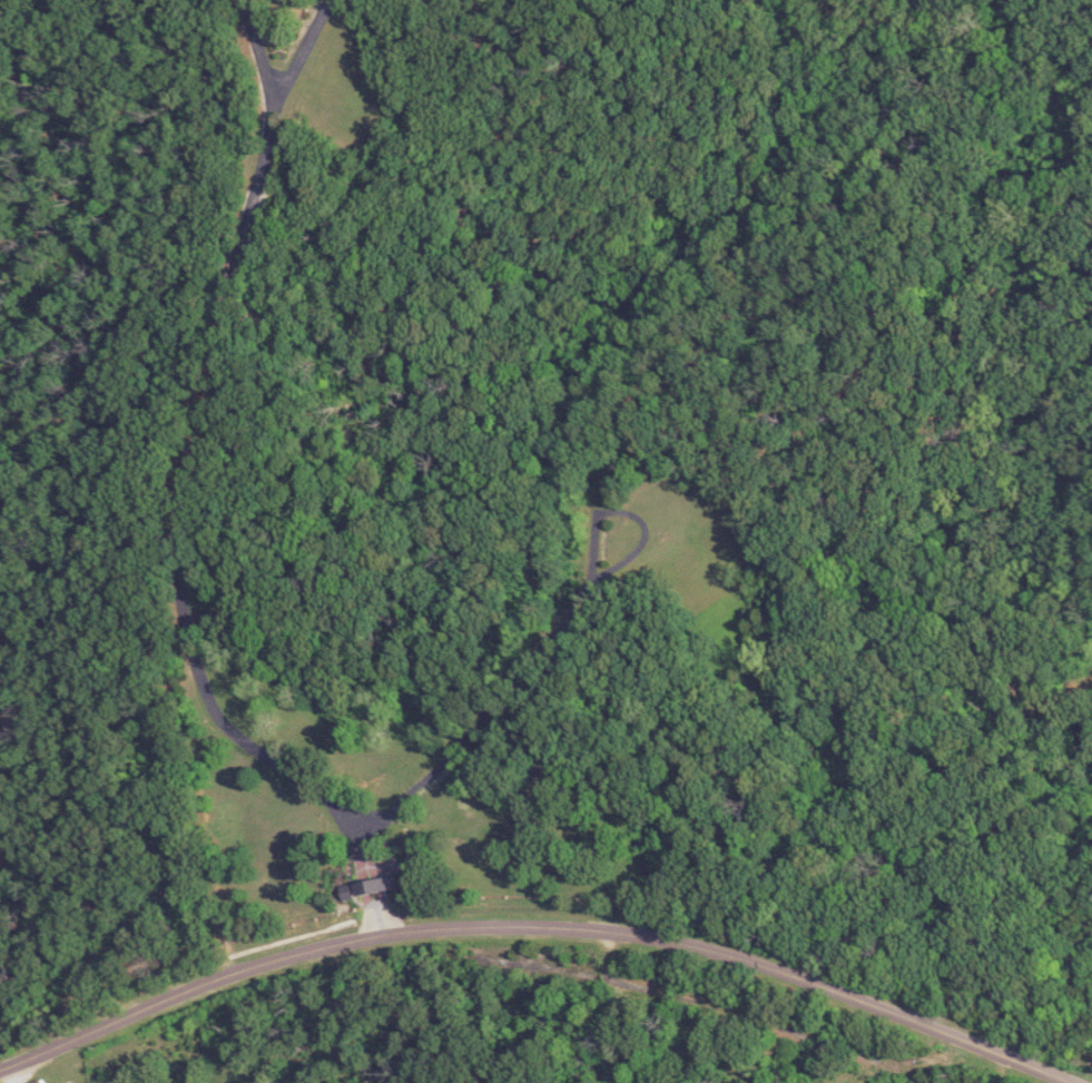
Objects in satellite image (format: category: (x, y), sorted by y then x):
building: (375, 876)
road: (539, 924)
building: (41, 1081)

